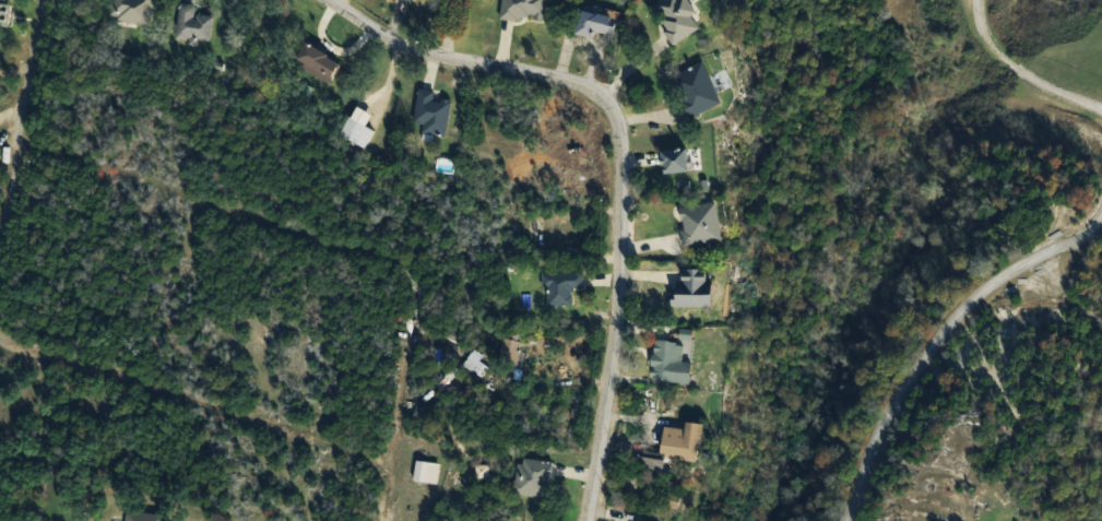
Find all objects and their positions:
building: (410, 0)
building: (525, 10)
building: (134, 11)
building: (5, 12)
building: (678, 20)
building: (595, 24)
building: (194, 25)
building: (319, 63)
road: (1024, 69)
building: (697, 91)
building: (432, 113)
road: (17, 130)
building: (357, 133)
road: (618, 157)
building: (676, 161)
building: (701, 224)
road: (309, 236)
building: (562, 287)
building: (695, 289)
road: (943, 340)
building: (510, 351)
building: (671, 363)
building: (476, 364)
road: (214, 411)
building: (677, 446)
building: (533, 477)
building: (632, 520)

